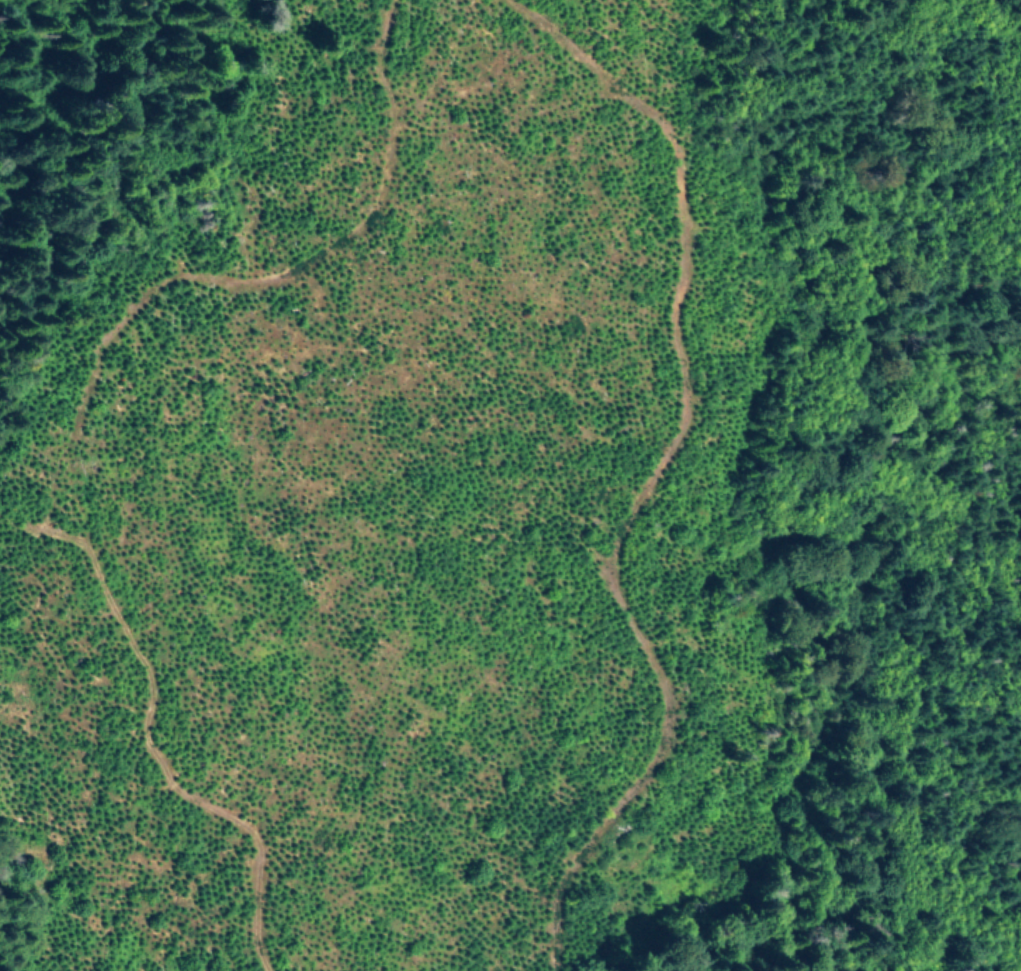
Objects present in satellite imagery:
road: (145, 254)

